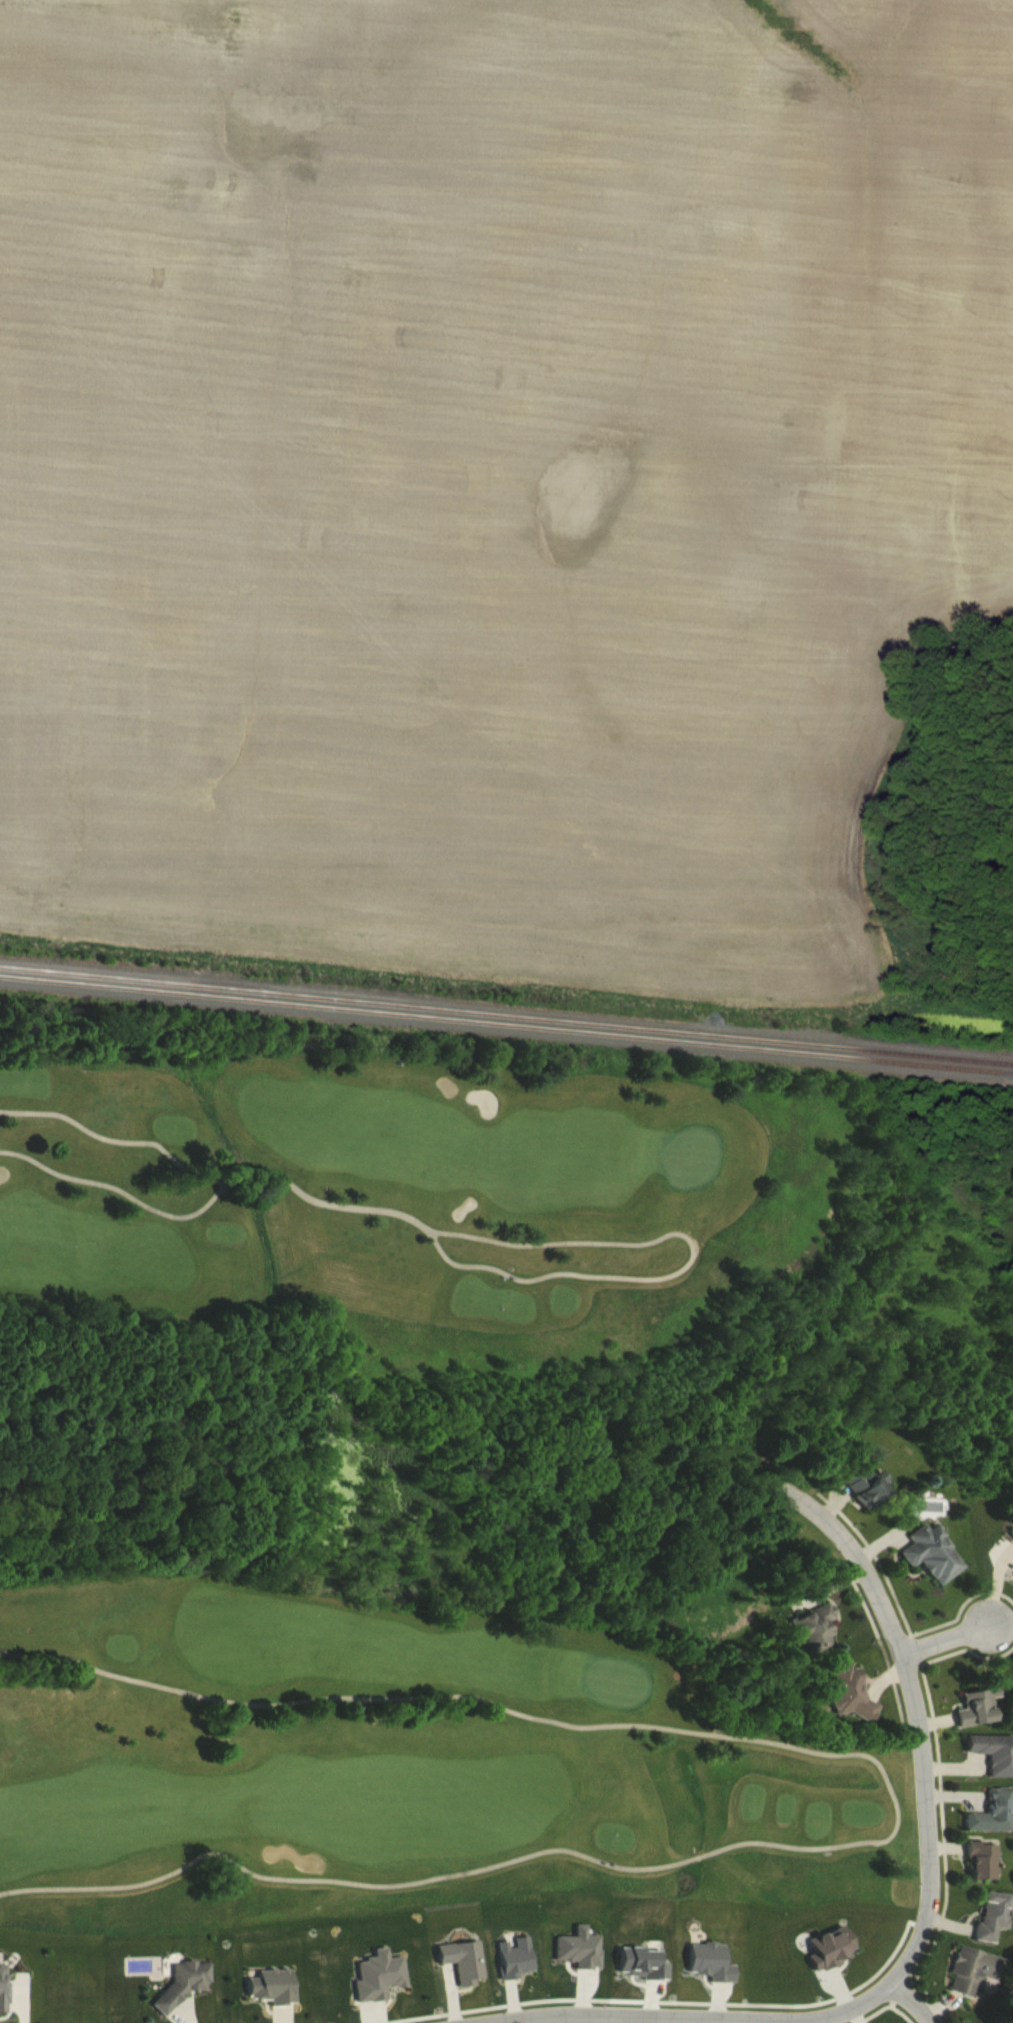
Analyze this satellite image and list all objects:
railway: (506, 1017)
railway: (506, 1027)
road: (218, 1186)
road: (299, 1188)
road: (687, 1237)
building: (863, 1486)
building: (931, 1553)
building: (813, 1627)
road: (942, 1635)
building: (849, 1692)
building: (975, 1706)
building: (993, 1752)
road: (925, 1796)
road: (895, 1809)
building: (992, 1812)
building: (980, 1859)
building: (991, 1914)
building: (971, 1968)
building: (184, 1979)
road: (912, 1997)
road: (588, 2017)

